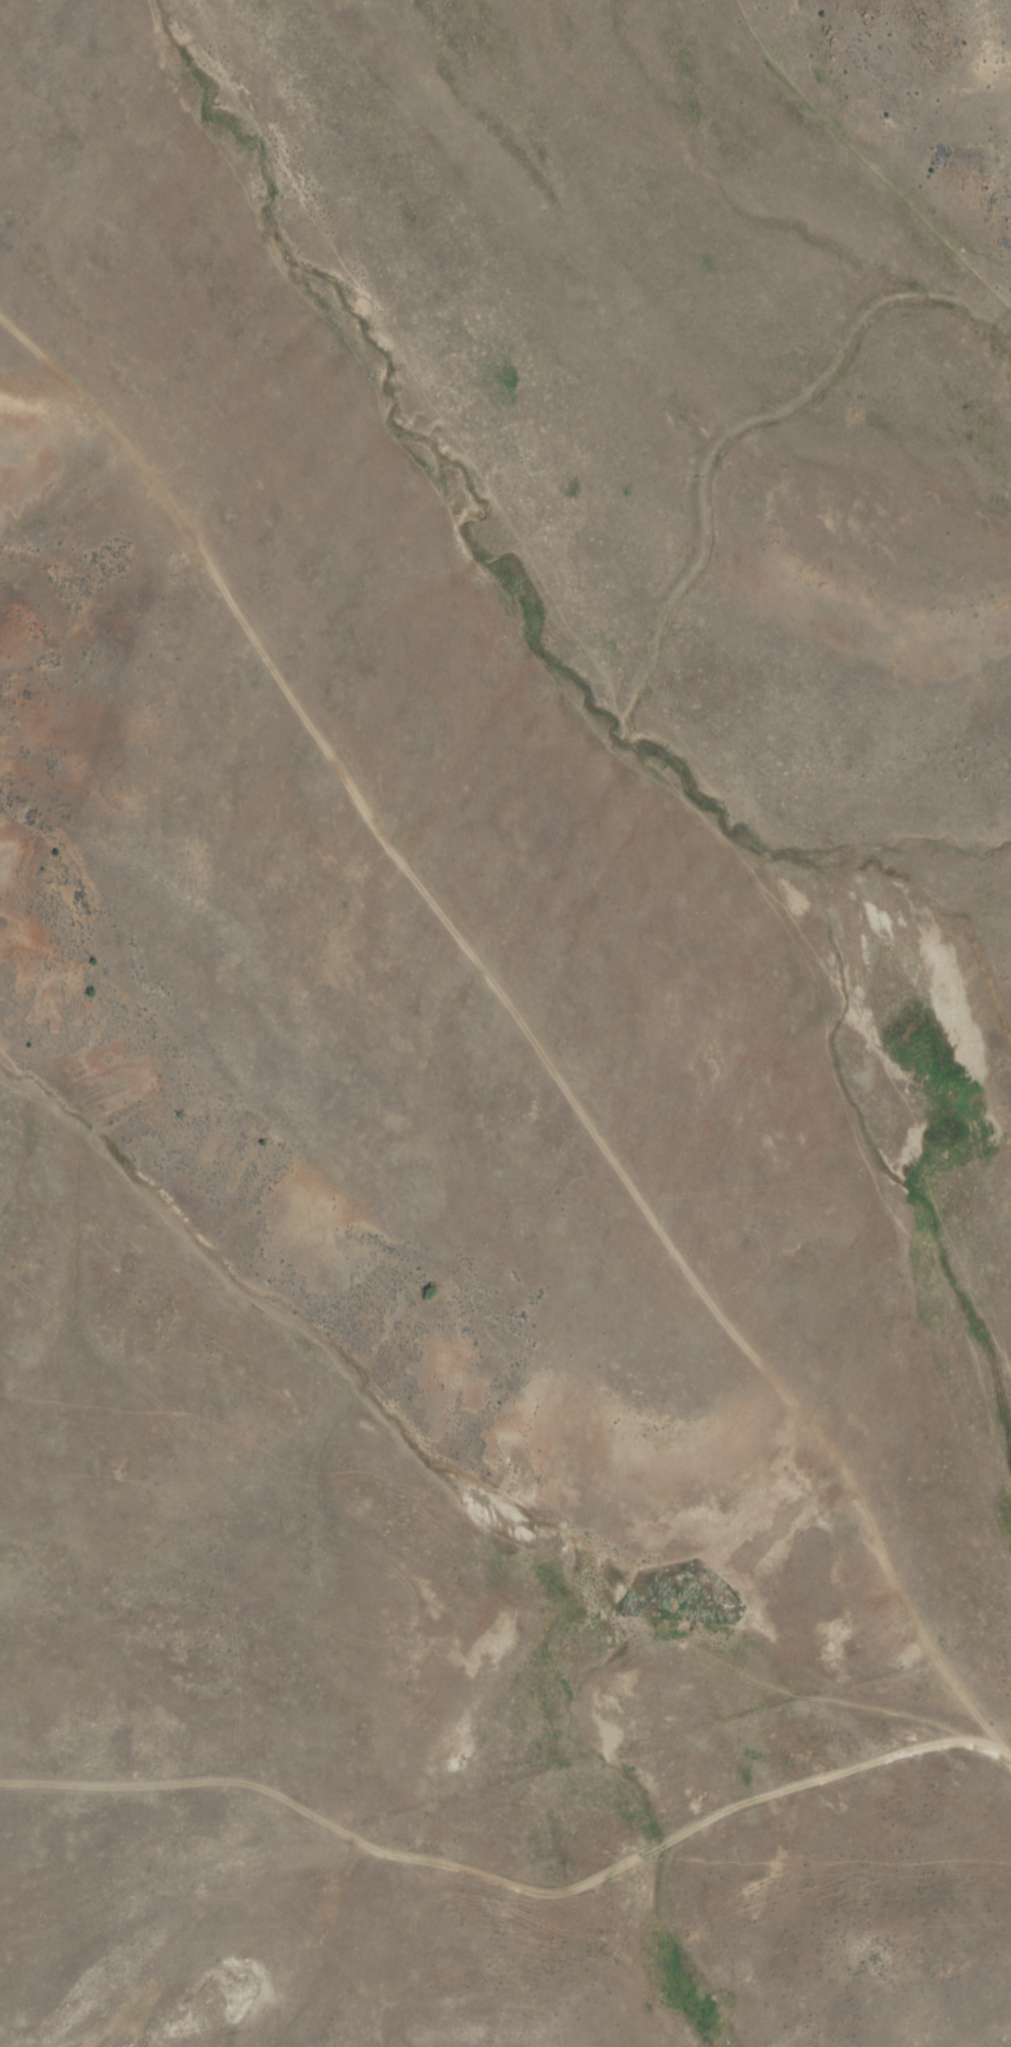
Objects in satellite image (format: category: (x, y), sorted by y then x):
road: (508, 1866)

